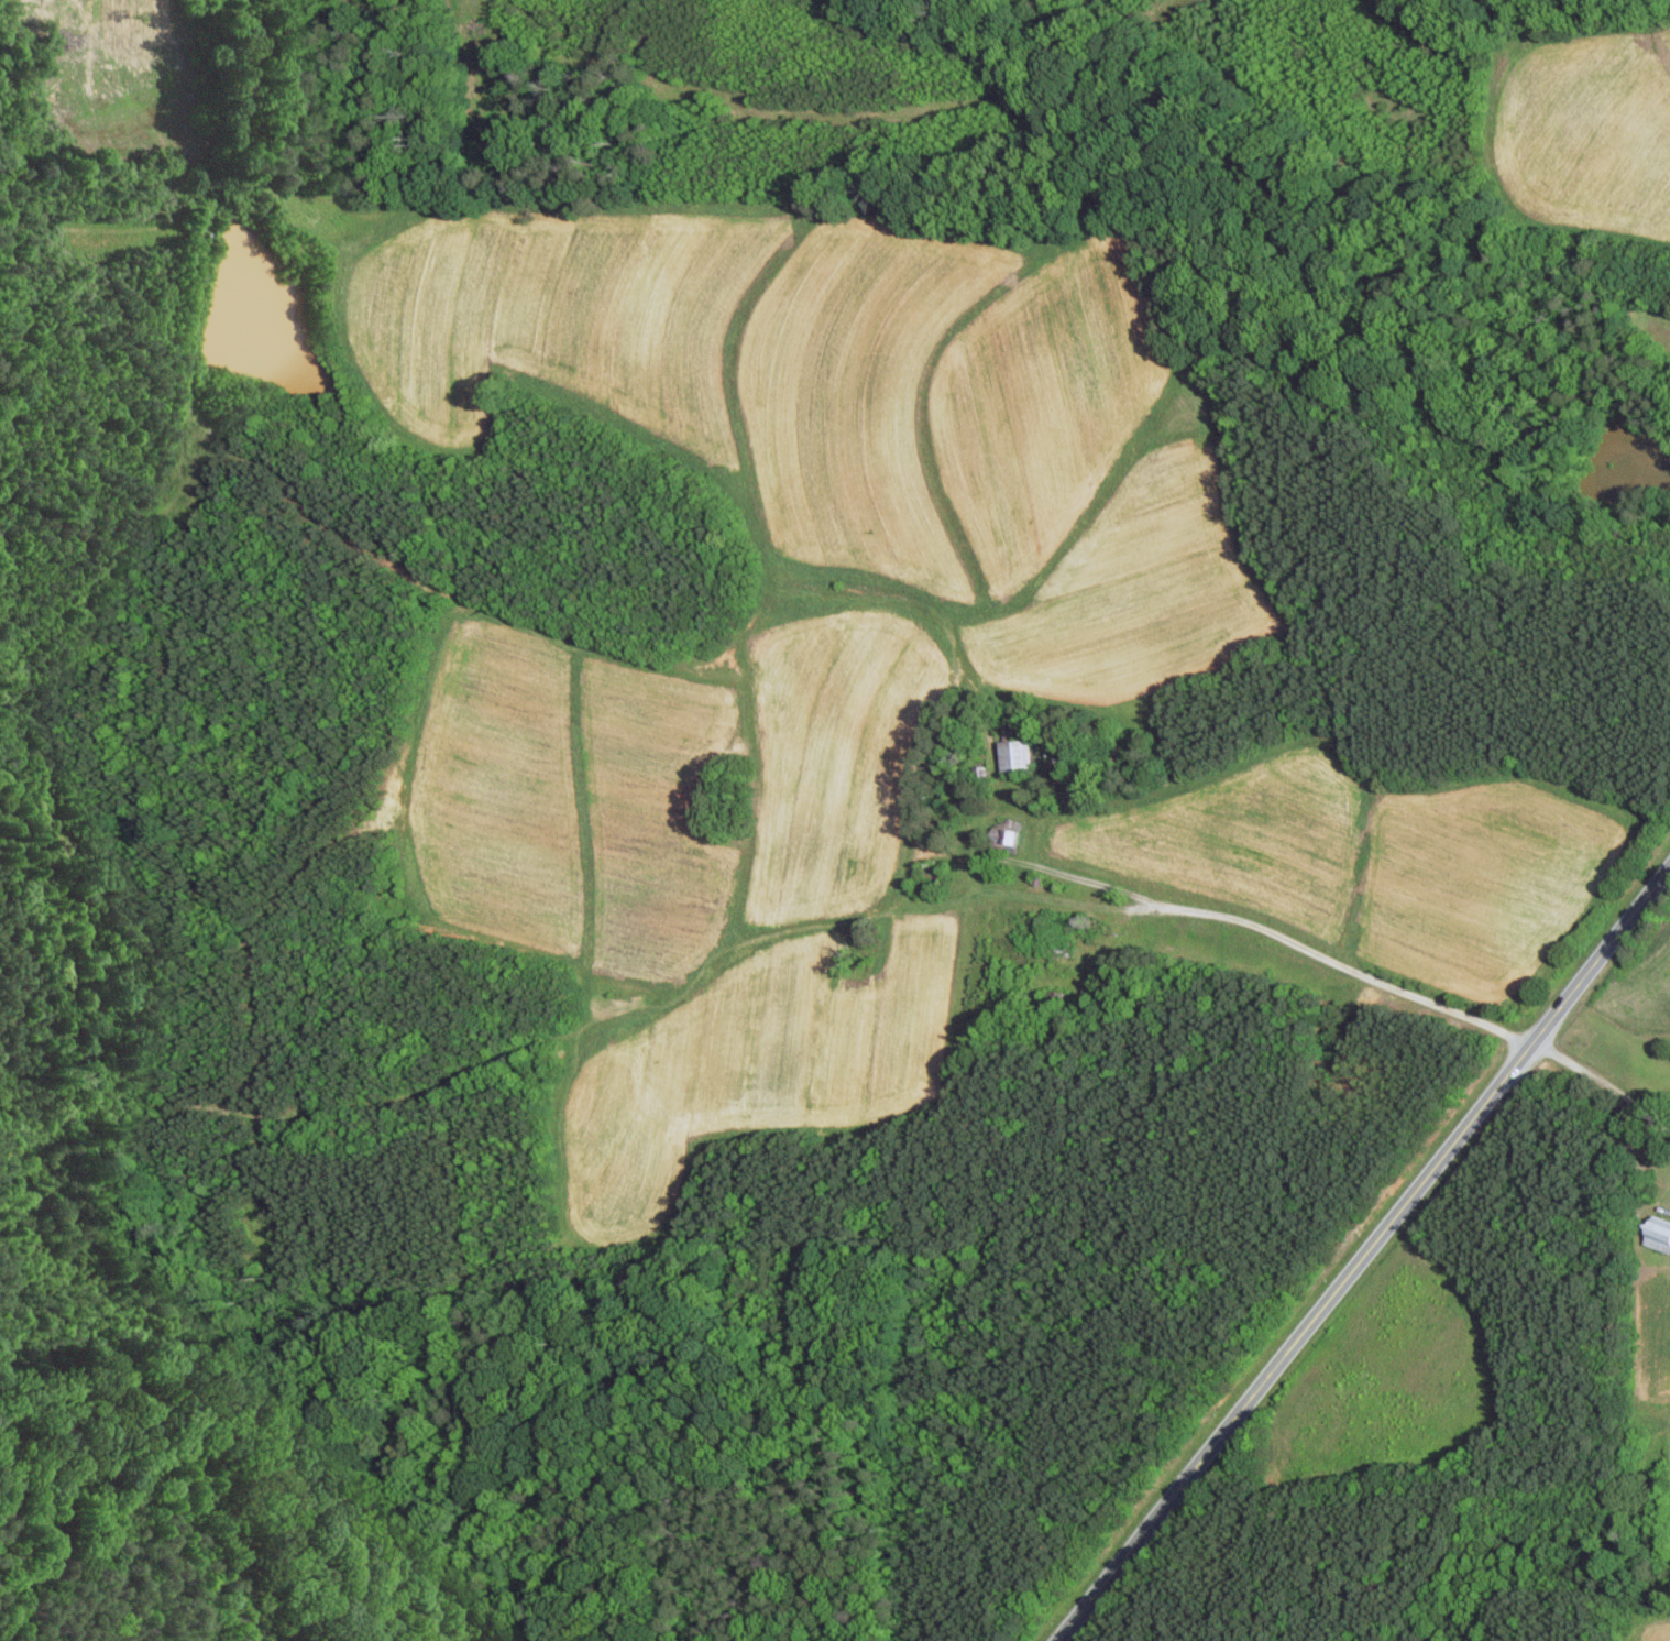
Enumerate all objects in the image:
building: (1020, 755)
road: (1098, 884)
road: (1356, 973)
road: (1603, 1085)
building: (1661, 1235)
road: (1363, 1254)

